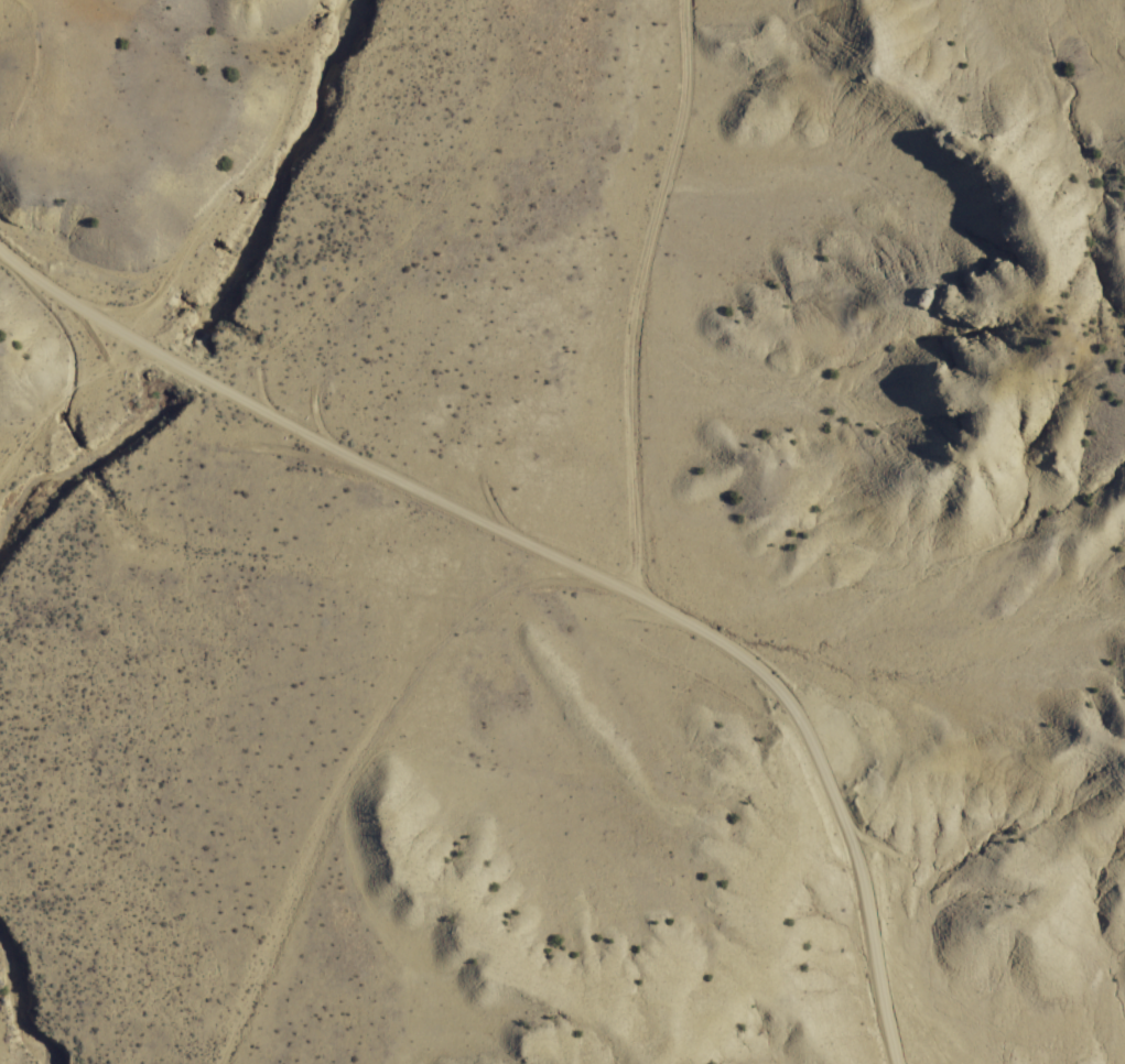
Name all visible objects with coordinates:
road: (637, 295)
road: (565, 562)

